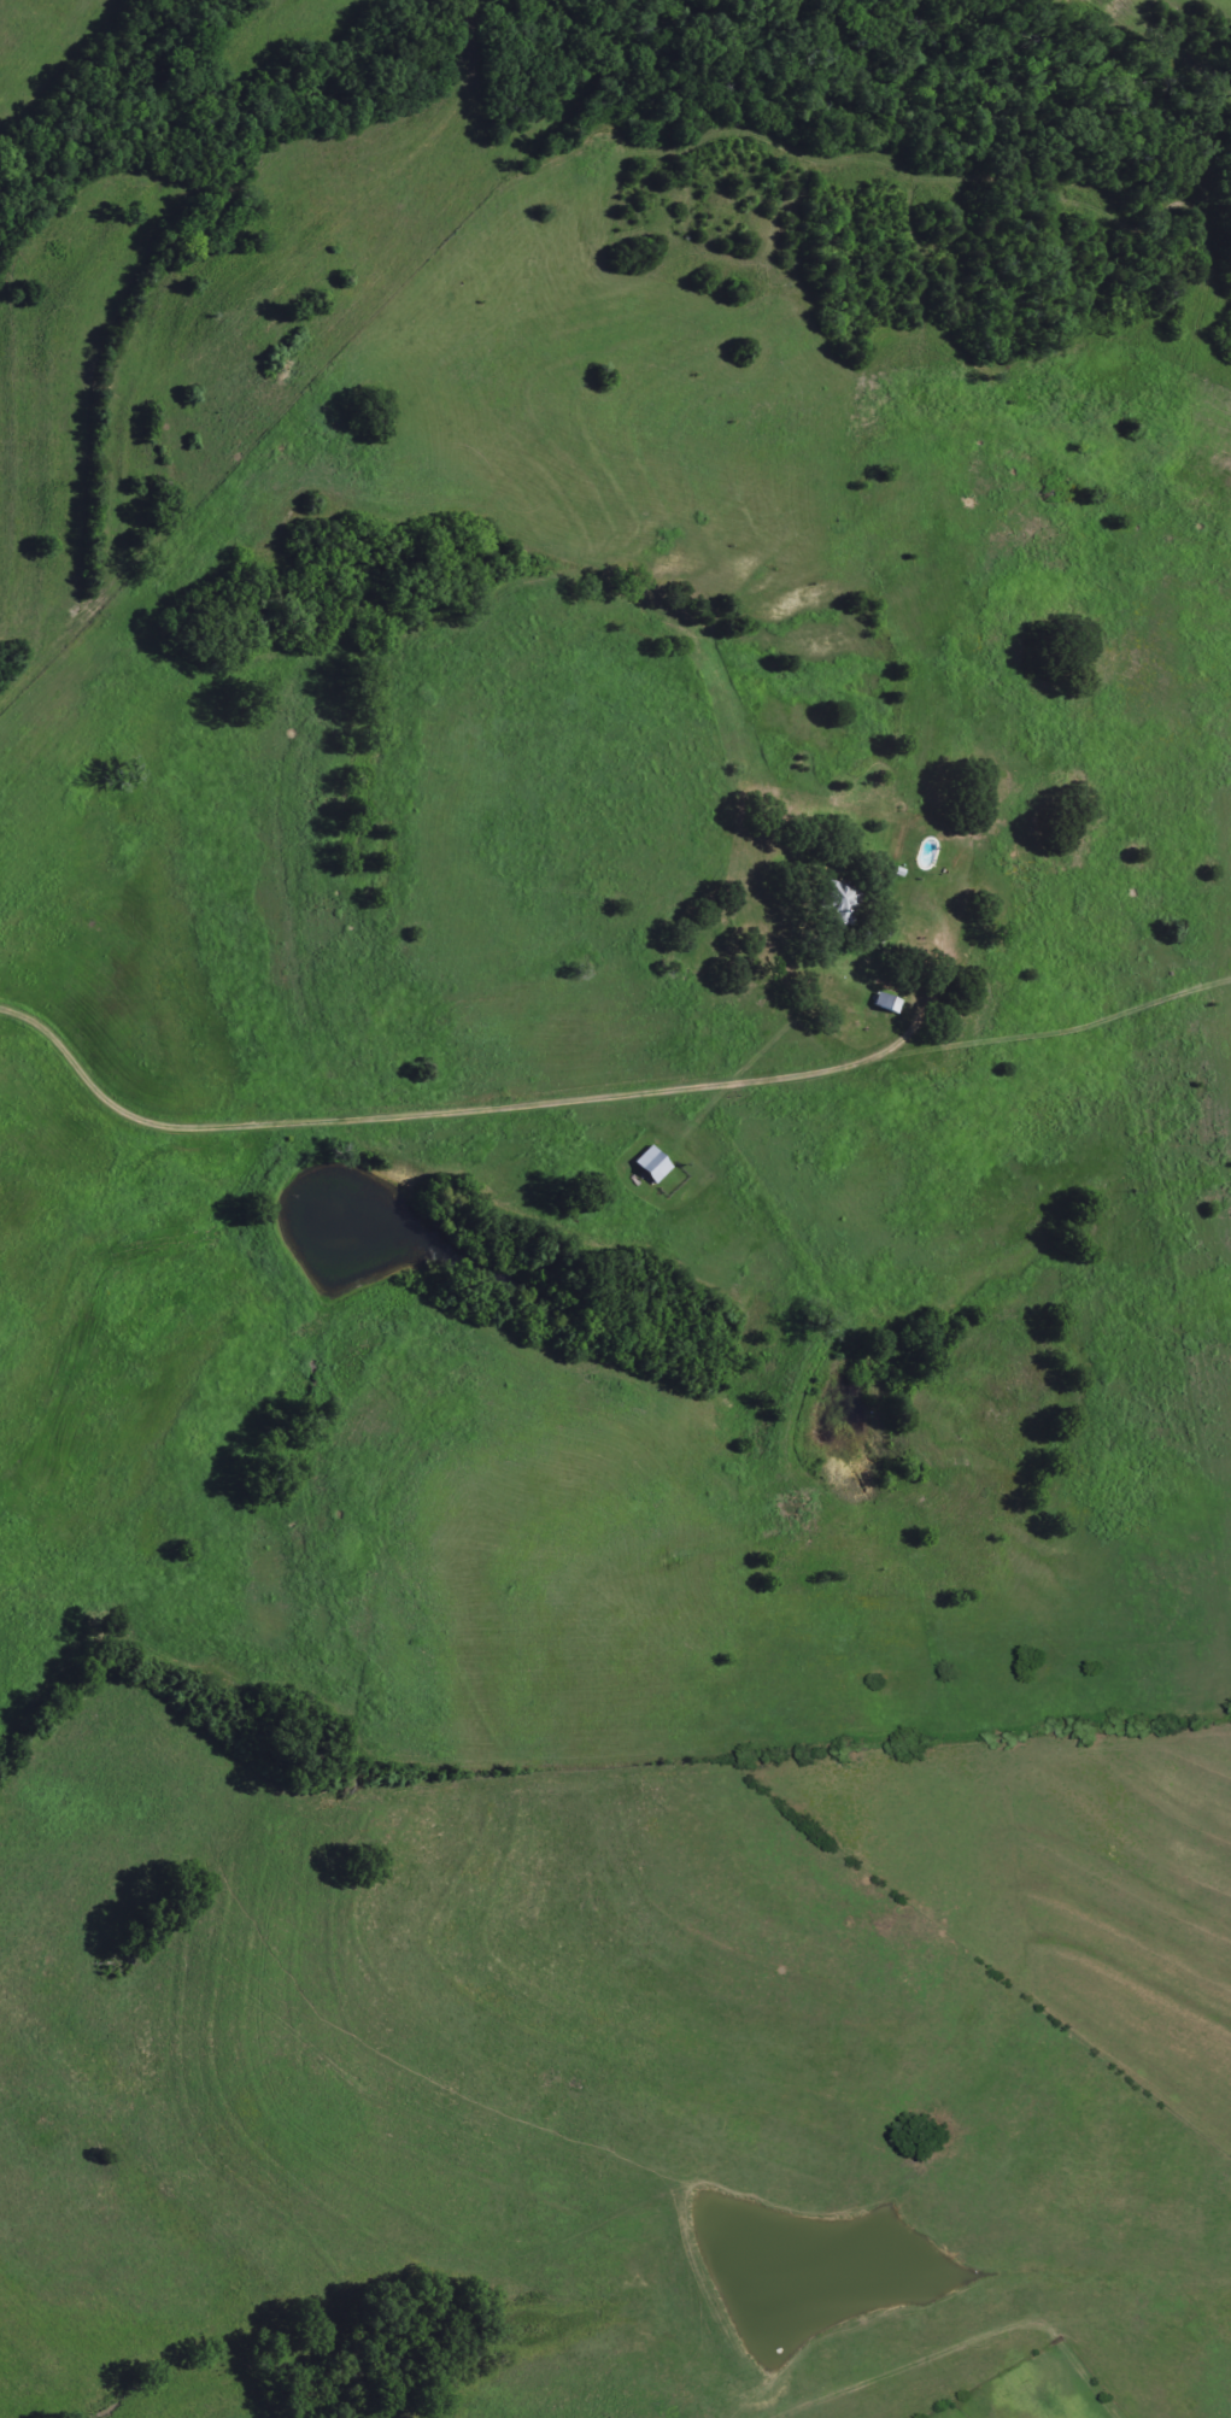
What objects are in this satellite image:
building: (838, 903)
road: (432, 905)
building: (887, 1004)
building: (652, 1164)

